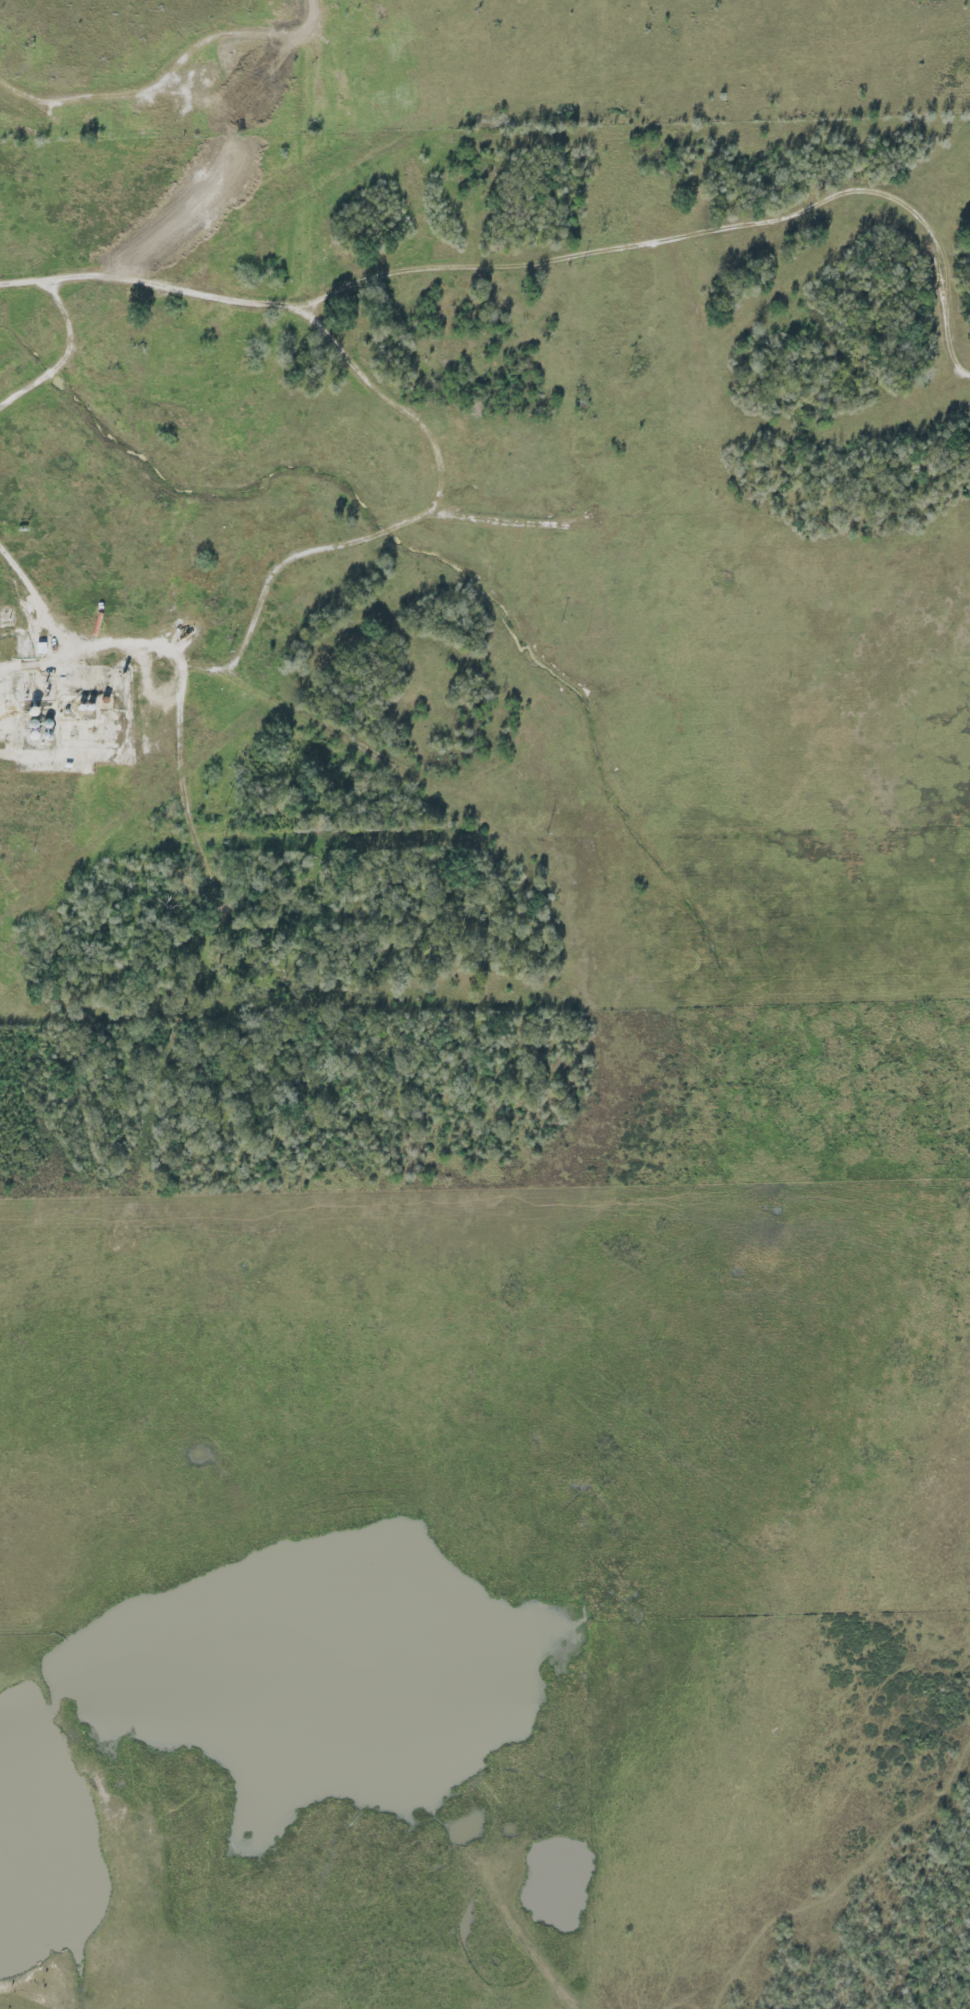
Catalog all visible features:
road: (313, 13)
road: (163, 81)
road: (548, 262)
road: (65, 351)
road: (423, 513)
road: (39, 598)
road: (115, 648)
road: (186, 732)
road: (540, 1958)
road: (6, 1987)

